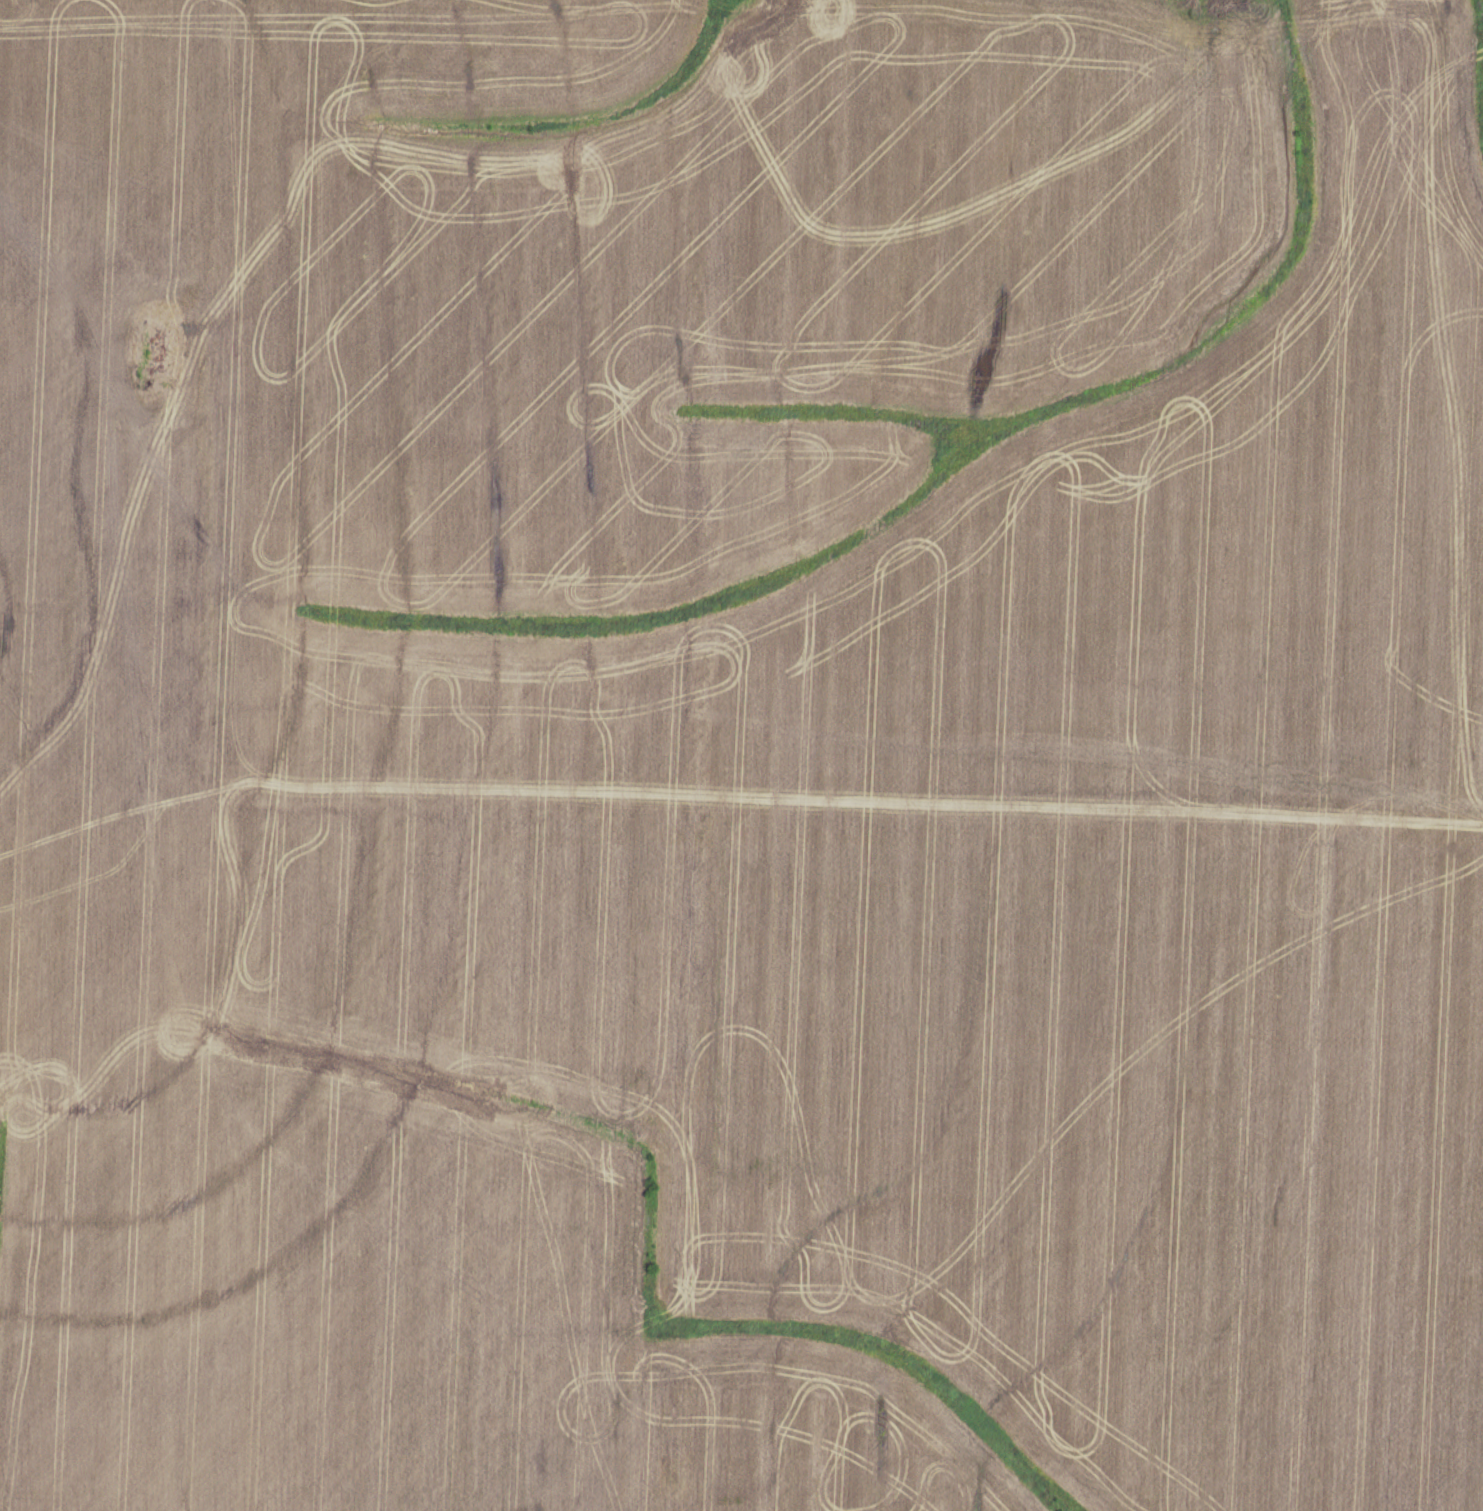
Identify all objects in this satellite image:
road: (24, 281)
building: (162, 352)

